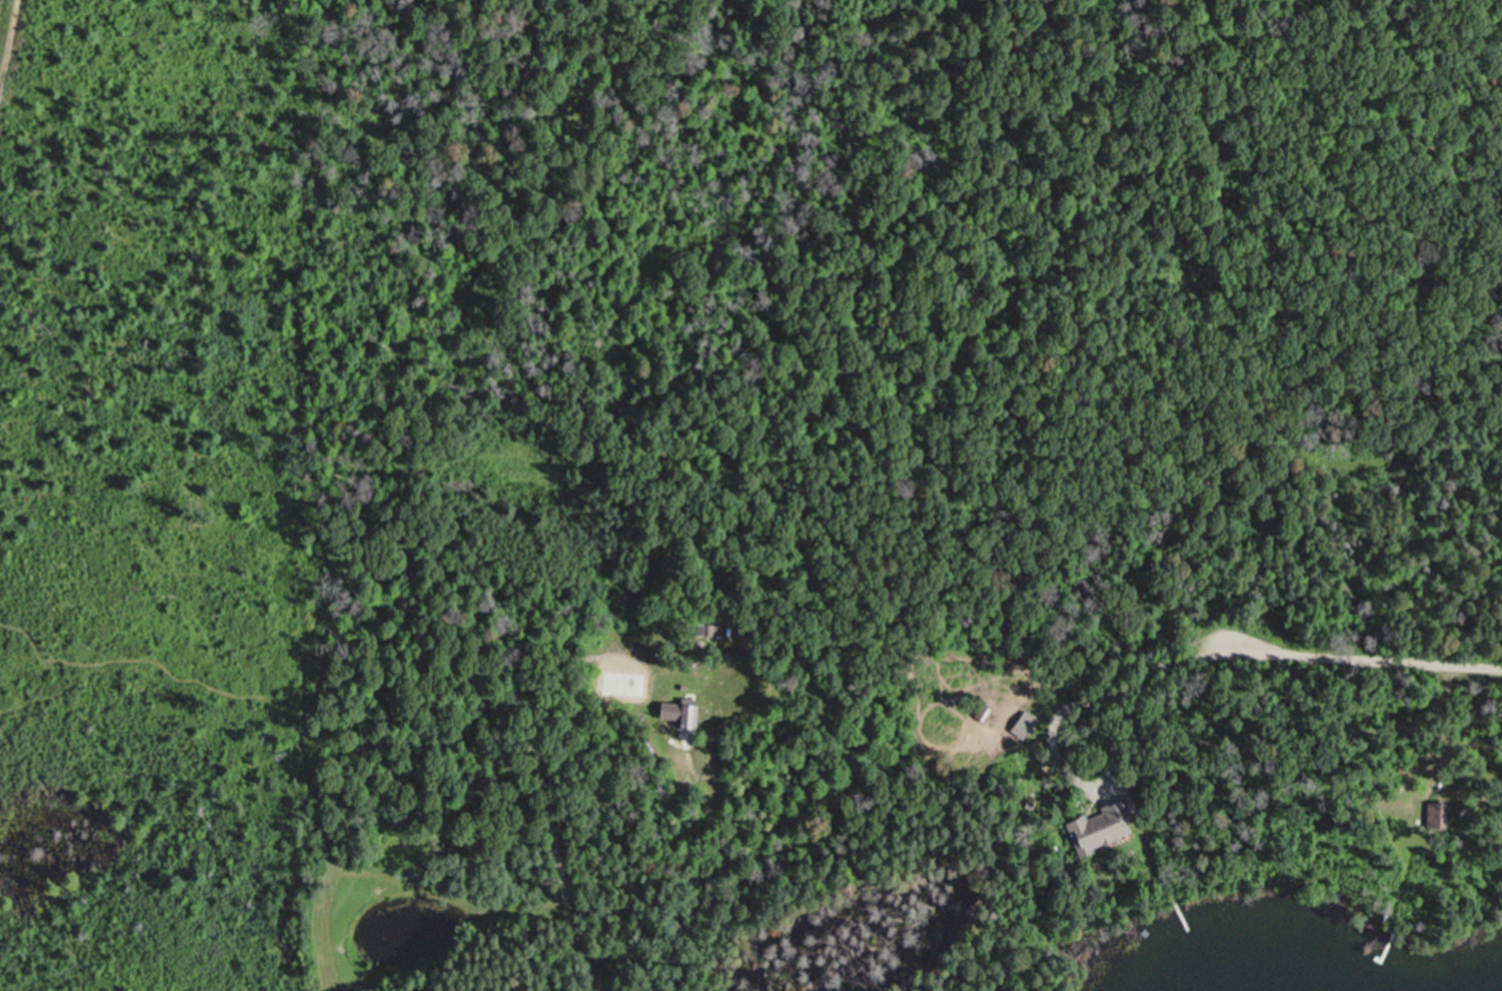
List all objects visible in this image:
road: (1362, 653)
road: (1109, 693)
building: (691, 716)
building: (1444, 813)
building: (1101, 828)
road: (561, 884)

